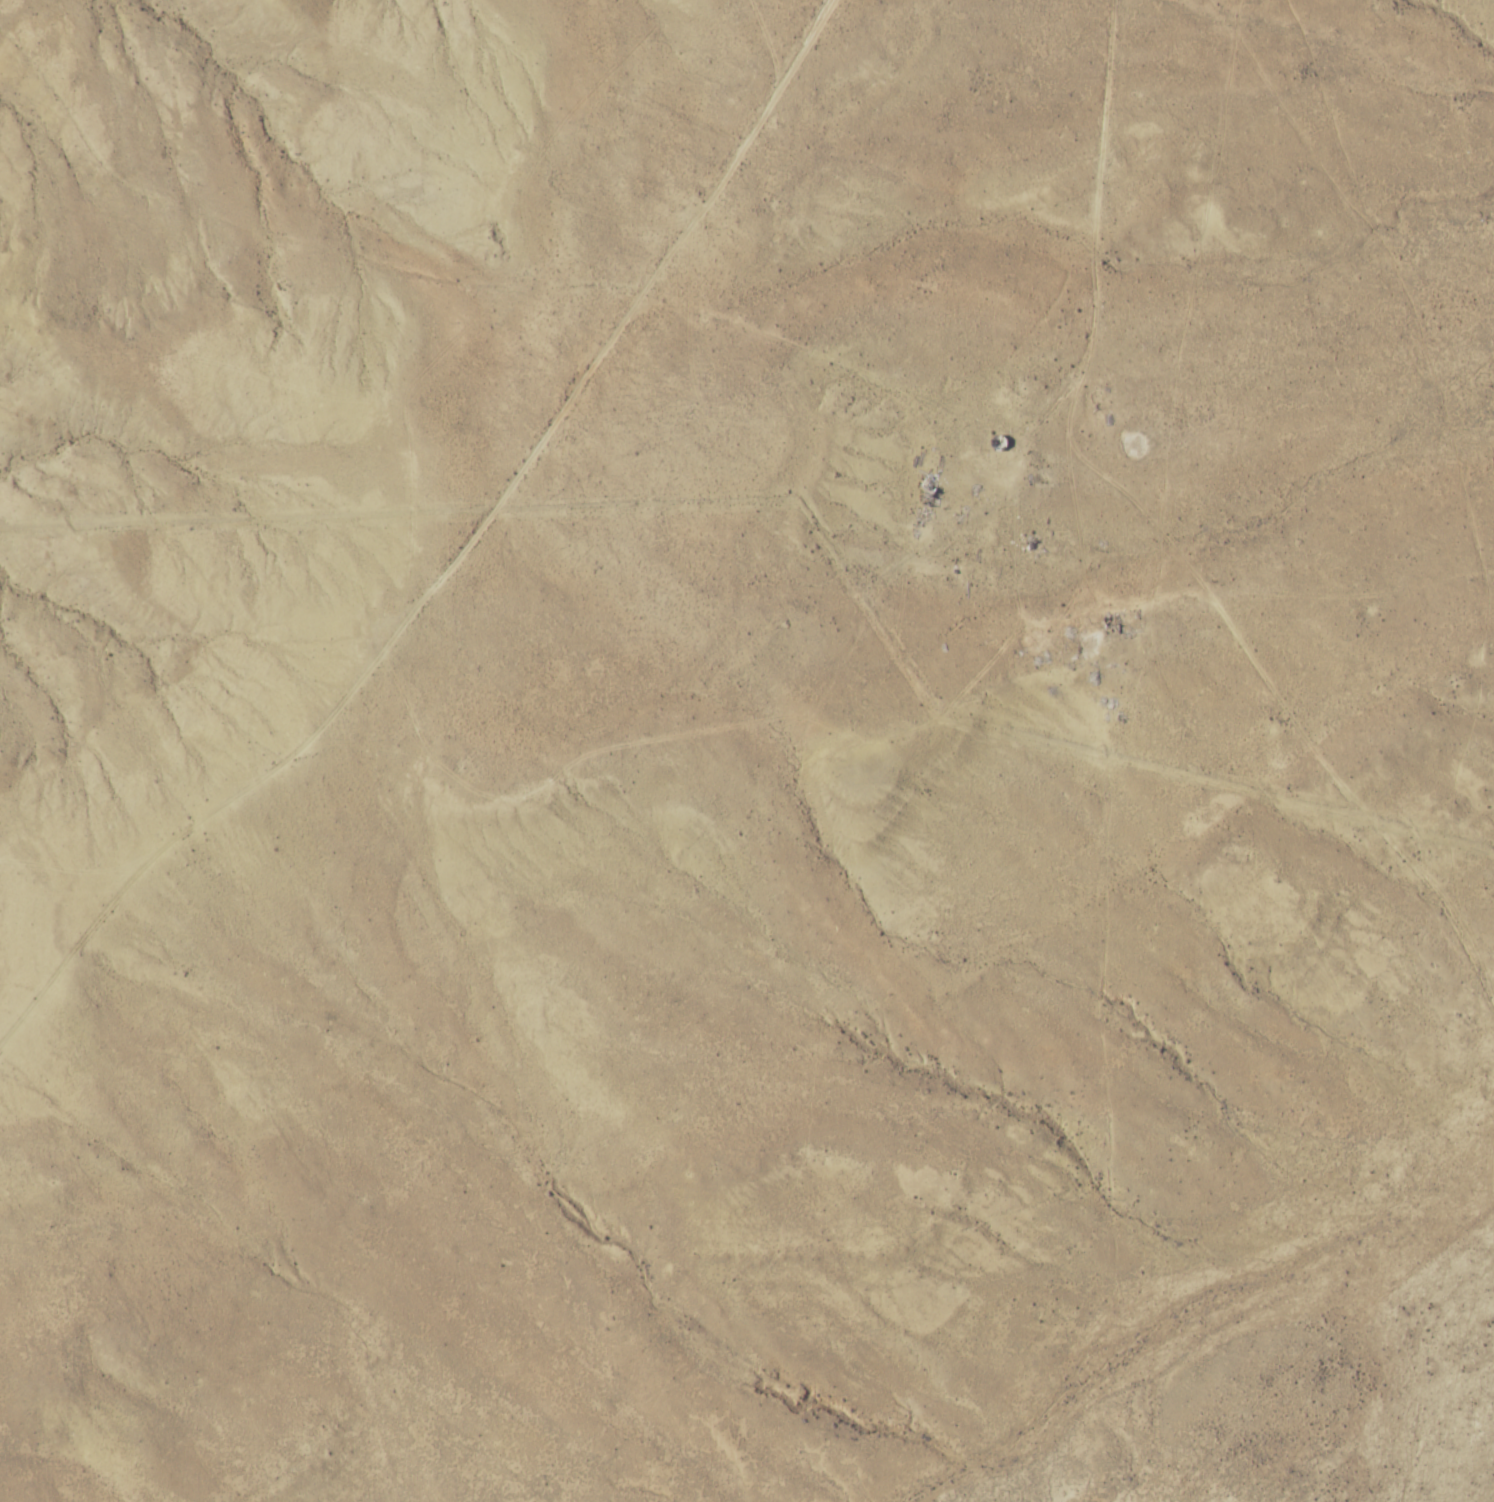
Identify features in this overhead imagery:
road: (1034, 408)
road: (453, 541)

